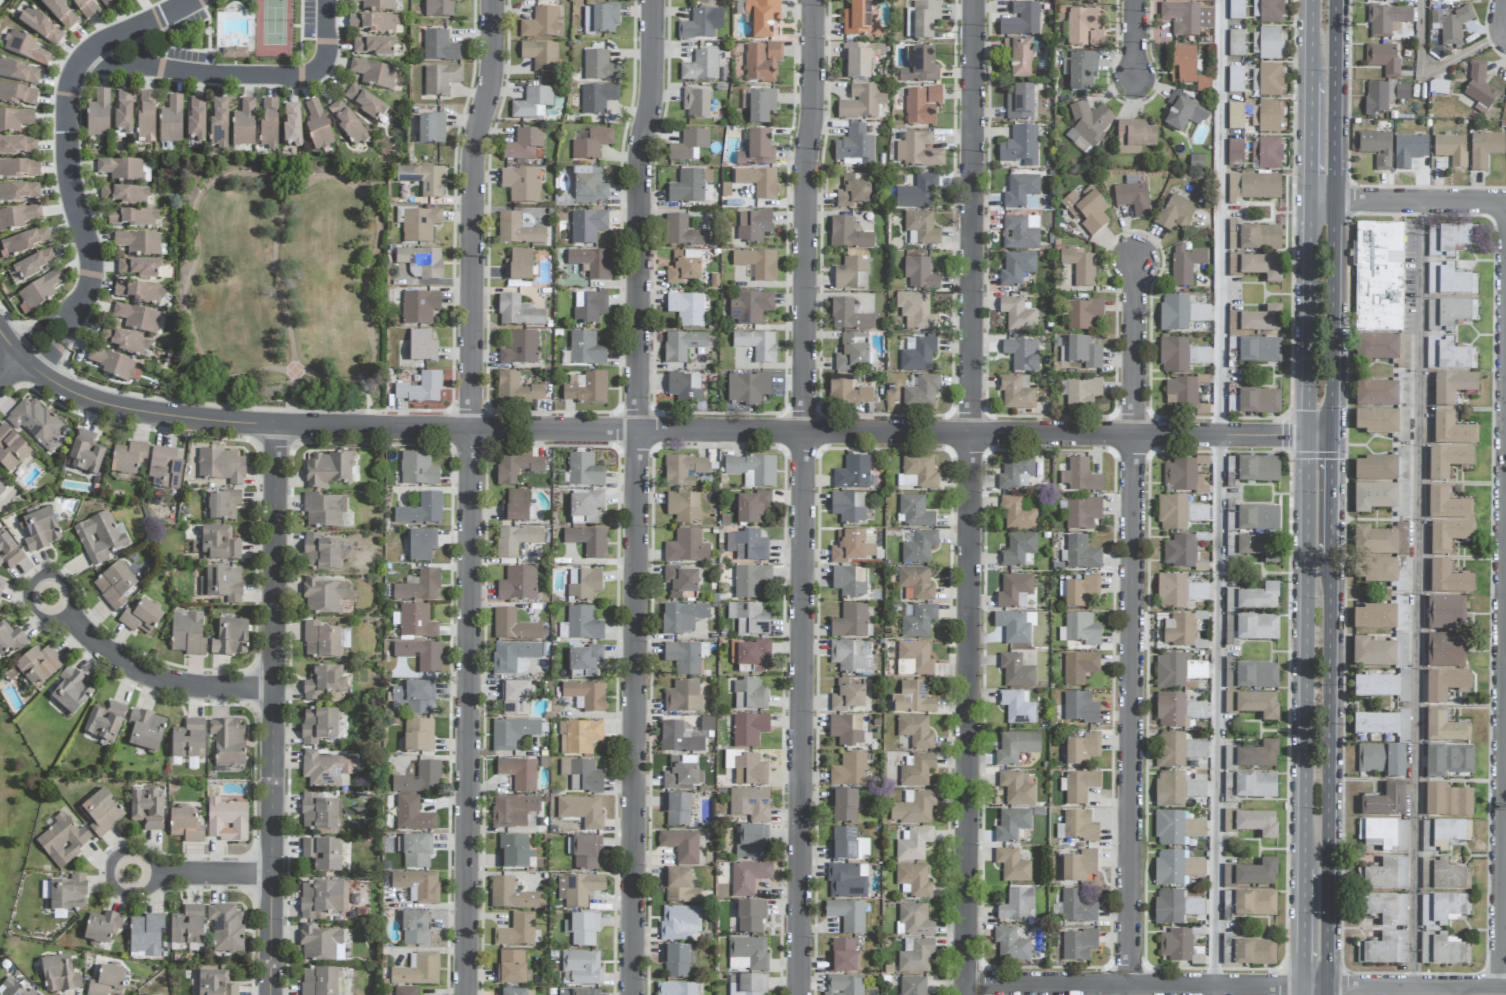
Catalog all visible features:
building: (1085, 0)
building: (1381, 0)
building: (1459, 1)
building: (108, 4)
building: (376, 5)
building: (86, 7)
building: (439, 8)
building: (1236, 9)
building: (1267, 11)
building: (60, 13)
building: (762, 17)
building: (1186, 18)
building: (600, 20)
building: (859, 20)
building: (923, 20)
building: (1021, 20)
building: (1387, 20)
road: (1505, 20)
building: (372, 23)
building: (543, 24)
building: (701, 24)
building: (1451, 25)
building: (39, 26)
building: (1083, 29)
road: (1134, 38)
road: (1310, 42)
building: (1236, 43)
building: (1266, 43)
building: (373, 46)
building: (439, 47)
building: (25, 48)
building: (234, 53)
building: (540, 56)
building: (1019, 58)
building: (1383, 59)
building: (762, 62)
building: (857, 62)
building: (599, 67)
building: (701, 67)
building: (920, 67)
road: (1438, 67)
building: (1189, 68)
building: (1082, 71)
building: (19, 72)
building: (373, 74)
road: (237, 76)
building: (440, 80)
building: (1268, 80)
building: (1438, 88)
building: (1479, 88)
building: (18, 95)
building: (1384, 96)
building: (598, 98)
road: (1335, 100)
building: (861, 102)
building: (364, 103)
building: (532, 103)
building: (1020, 103)
building: (696, 104)
building: (921, 105)
building: (761, 106)
building: (123, 112)
building: (1184, 112)
building: (98, 115)
building: (1235, 116)
building: (146, 117)
building: (1266, 117)
building: (196, 119)
building: (15, 120)
building: (171, 120)
building: (219, 123)
building: (268, 123)
building: (347, 123)
building: (243, 124)
building: (291, 124)
building: (1089, 124)
building: (317, 126)
building: (431, 129)
building: (1134, 137)
road: (1309, 142)
building: (523, 145)
building: (591, 145)
building: (18, 146)
building: (689, 146)
building: (1020, 146)
building: (855, 148)
building: (1376, 148)
building: (1485, 149)
building: (757, 150)
building: (1409, 150)
building: (1451, 150)
building: (918, 151)
building: (1235, 152)
building: (1267, 153)
road: (70, 159)
building: (1196, 163)
building: (18, 169)
building: (423, 180)
building: (758, 182)
building: (521, 185)
building: (589, 186)
building: (689, 186)
building: (1253, 187)
building: (1020, 190)
building: (19, 192)
building: (853, 192)
building: (917, 193)
building: (123, 195)
building: (1132, 196)
road: (1322, 200)
road: (1420, 200)
building: (1086, 210)
building: (1175, 214)
building: (18, 218)
building: (132, 218)
building: (420, 225)
building: (753, 225)
building: (587, 226)
building: (921, 227)
building: (518, 230)
building: (683, 232)
building: (1020, 233)
building: (848, 235)
building: (1256, 238)
building: (1446, 240)
building: (25, 242)
building: (140, 243)
building: (421, 262)
building: (592, 263)
building: (34, 264)
building: (757, 264)
building: (1185, 265)
building: (519, 266)
building: (684, 267)
building: (1080, 267)
building: (1256, 267)
building: (139, 268)
building: (1016, 268)
building: (851, 274)
building: (920, 274)
building: (1379, 277)
building: (1448, 281)
park: (290, 284)
building: (39, 292)
building: (138, 292)
building: (419, 307)
building: (590, 307)
building: (749, 308)
building: (686, 309)
building: (916, 310)
building: (518, 312)
building: (1180, 313)
building: (1083, 314)
building: (1448, 314)
building: (1017, 315)
building: (849, 316)
road: (1332, 317)
building: (137, 318)
building: (1256, 321)
building: (125, 342)
building: (682, 345)
building: (757, 345)
building: (421, 346)
building: (1376, 348)
building: (520, 349)
building: (582, 350)
building: (1259, 350)
building: (853, 353)
building: (1082, 353)
building: (1022, 355)
building: (1448, 355)
building: (918, 356)
building: (1180, 356)
building: (114, 366)
road: (13, 372)
building: (1453, 387)
building: (747, 388)
building: (420, 389)
building: (586, 389)
building: (685, 389)
building: (517, 390)
building: (847, 391)
building: (921, 392)
building: (1016, 393)
building: (1376, 393)
building: (1082, 394)
building: (1184, 394)
building: (1259, 401)
building: (1377, 422)
building: (35, 423)
building: (1452, 430)
road: (639, 431)
traffic signals: (1307, 435)
road: (1318, 435)
traffic signals: (1330, 435)
building: (10, 450)
building: (85, 453)
building: (128, 458)
building: (1448, 462)
building: (221, 466)
building: (517, 467)
building: (164, 469)
building: (327, 469)
building: (1258, 469)
building: (1376, 469)
building: (417, 470)
building: (683, 470)
building: (752, 470)
building: (584, 471)
building: (852, 473)
building: (917, 473)
building: (1016, 473)
building: (1184, 475)
building: (1081, 477)
building: (1, 490)
road: (1329, 494)
road: (472, 496)
road: (638, 496)
road: (805, 497)
road: (971, 497)
road: (1219, 497)
building: (1447, 505)
building: (222, 506)
building: (515, 506)
building: (585, 507)
building: (683, 507)
building: (752, 507)
building: (848, 507)
building: (421, 510)
building: (323, 511)
building: (915, 512)
building: (1082, 513)
building: (1179, 513)
building: (1017, 514)
building: (1258, 518)
building: (40, 530)
road: (1306, 534)
building: (1449, 536)
building: (99, 538)
building: (516, 540)
building: (588, 541)
building: (1381, 541)
building: (219, 544)
building: (421, 545)
building: (747, 545)
building: (850, 547)
building: (919, 547)
building: (686, 548)
building: (1259, 548)
building: (1019, 550)
building: (8, 553)
building: (320, 553)
building: (1081, 553)
building: (1402, 570)
building: (1377, 571)
building: (1449, 579)
building: (751, 581)
building: (849, 581)
building: (681, 582)
building: (916, 583)
building: (222, 584)
building: (517, 584)
building: (583, 584)
building: (1, 585)
building: (114, 585)
building: (419, 587)
building: (1014, 591)
building: (1080, 591)
building: (1178, 592)
road: (1420, 594)
building: (325, 596)
building: (1253, 599)
building: (1446, 613)
building: (1401, 614)
building: (141, 616)
building: (682, 617)
building: (1375, 617)
building: (749, 619)
building: (918, 621)
building: (416, 622)
building: (851, 622)
building: (1231, 623)
building: (581, 625)
building: (513, 626)
building: (1016, 626)
building: (1257, 627)
building: (1080, 629)
road: (1134, 629)
building: (187, 633)
building: (230, 638)
building: (9, 640)
building: (321, 641)
building: (1446, 650)
building: (750, 654)
building: (421, 655)
building: (513, 656)
building: (851, 656)
building: (685, 657)
building: (915, 658)
building: (586, 659)
building: (38, 666)
building: (1402, 667)
building: (1079, 668)
building: (1177, 670)
road: (140, 671)
building: (1016, 671)
building: (1257, 676)
building: (324, 682)
building: (1445, 685)
building: (70, 691)
building: (586, 695)
building: (749, 695)
building: (848, 695)
building: (683, 696)
building: (413, 697)
building: (913, 698)
building: (516, 699)
building: (1253, 704)
building: (1017, 707)
building: (1080, 708)
building: (1177, 710)
road: (275, 711)
building: (105, 722)
building: (1383, 725)
building: (318, 726)
building: (1445, 728)
building: (749, 729)
building: (846, 730)
building: (145, 731)
building: (915, 731)
building: (512, 733)
building: (418, 736)
building: (581, 736)
building: (188, 740)
building: (227, 742)
building: (1016, 747)
building: (1083, 749)
building: (1178, 750)
building: (1258, 756)
building: (1230, 758)
building: (1382, 759)
building: (1449, 760)
building: (326, 769)
building: (748, 769)
building: (917, 770)
road: (1327, 770)
building: (849, 771)
building: (519, 773)
building: (681, 774)
building: (582, 776)
building: (419, 779)
building: (1255, 785)
building: (1080, 786)
building: (1016, 789)
building: (1177, 789)
building: (1448, 801)
building: (1386, 802)
building: (750, 804)
building: (843, 806)
building: (914, 809)
building: (147, 810)
building: (677, 810)
building: (512, 811)
building: (581, 811)
park: (16, 812)
building: (102, 812)
building: (318, 813)
building: (413, 815)
building: (227, 820)
building: (1252, 823)
building: (1012, 824)
building: (185, 825)
building: (1077, 826)
building: (1176, 828)
road: (1505, 831)
building: (1449, 833)
building: (1384, 835)
building: (63, 840)
building: (752, 842)
building: (681, 845)
building: (847, 845)
building: (913, 845)
building: (415, 852)
building: (513, 852)
building: (586, 852)
building: (322, 855)
building: (1012, 865)
building: (1079, 866)
building: (1176, 868)
road: (191, 874)
building: (1257, 874)
building: (1385, 875)
building: (1444, 876)
building: (748, 877)
building: (914, 880)
building: (847, 881)
road: (1504, 884)
building: (418, 885)
building: (679, 887)
building: (578, 889)
building: (68, 894)
building: (510, 895)
building: (320, 900)
building: (1254, 903)
building: (1017, 905)
building: (1077, 907)
building: (1175, 907)
building: (1386, 908)
building: (1440, 909)
building: (847, 915)
building: (750, 916)
building: (914, 920)
building: (679, 922)
building: (187, 926)
building: (102, 928)
building: (226, 928)
building: (415, 928)
road: (1302, 928)
building: (584, 930)
building: (518, 931)
building: (145, 935)
building: (320, 944)
building: (1011, 945)
building: (1078, 945)
building: (1176, 945)
building: (1384, 949)
building: (1442, 949)
building: (1254, 952)
building: (747, 954)
building: (914, 955)
building: (842, 956)
building: (677, 960)
building: (581, 967)
building: (513, 968)
building: (418, 971)
building: (59, 974)
building: (107, 981)
building: (319, 981)
building: (215, 984)
building: (747, 985)
building: (844, 985)
building: (913, 986)
road: (1134, 986)
road: (1314, 987)
building: (676, 988)
building: (13, 989)
road: (1415, 989)
building: (405, 991)
road: (1301, 991)
road: (1326, 991)
road: (1359, 991)
building: (512, 992)
building: (579, 992)
road: (1406, 992)
road: (1461, 992)

